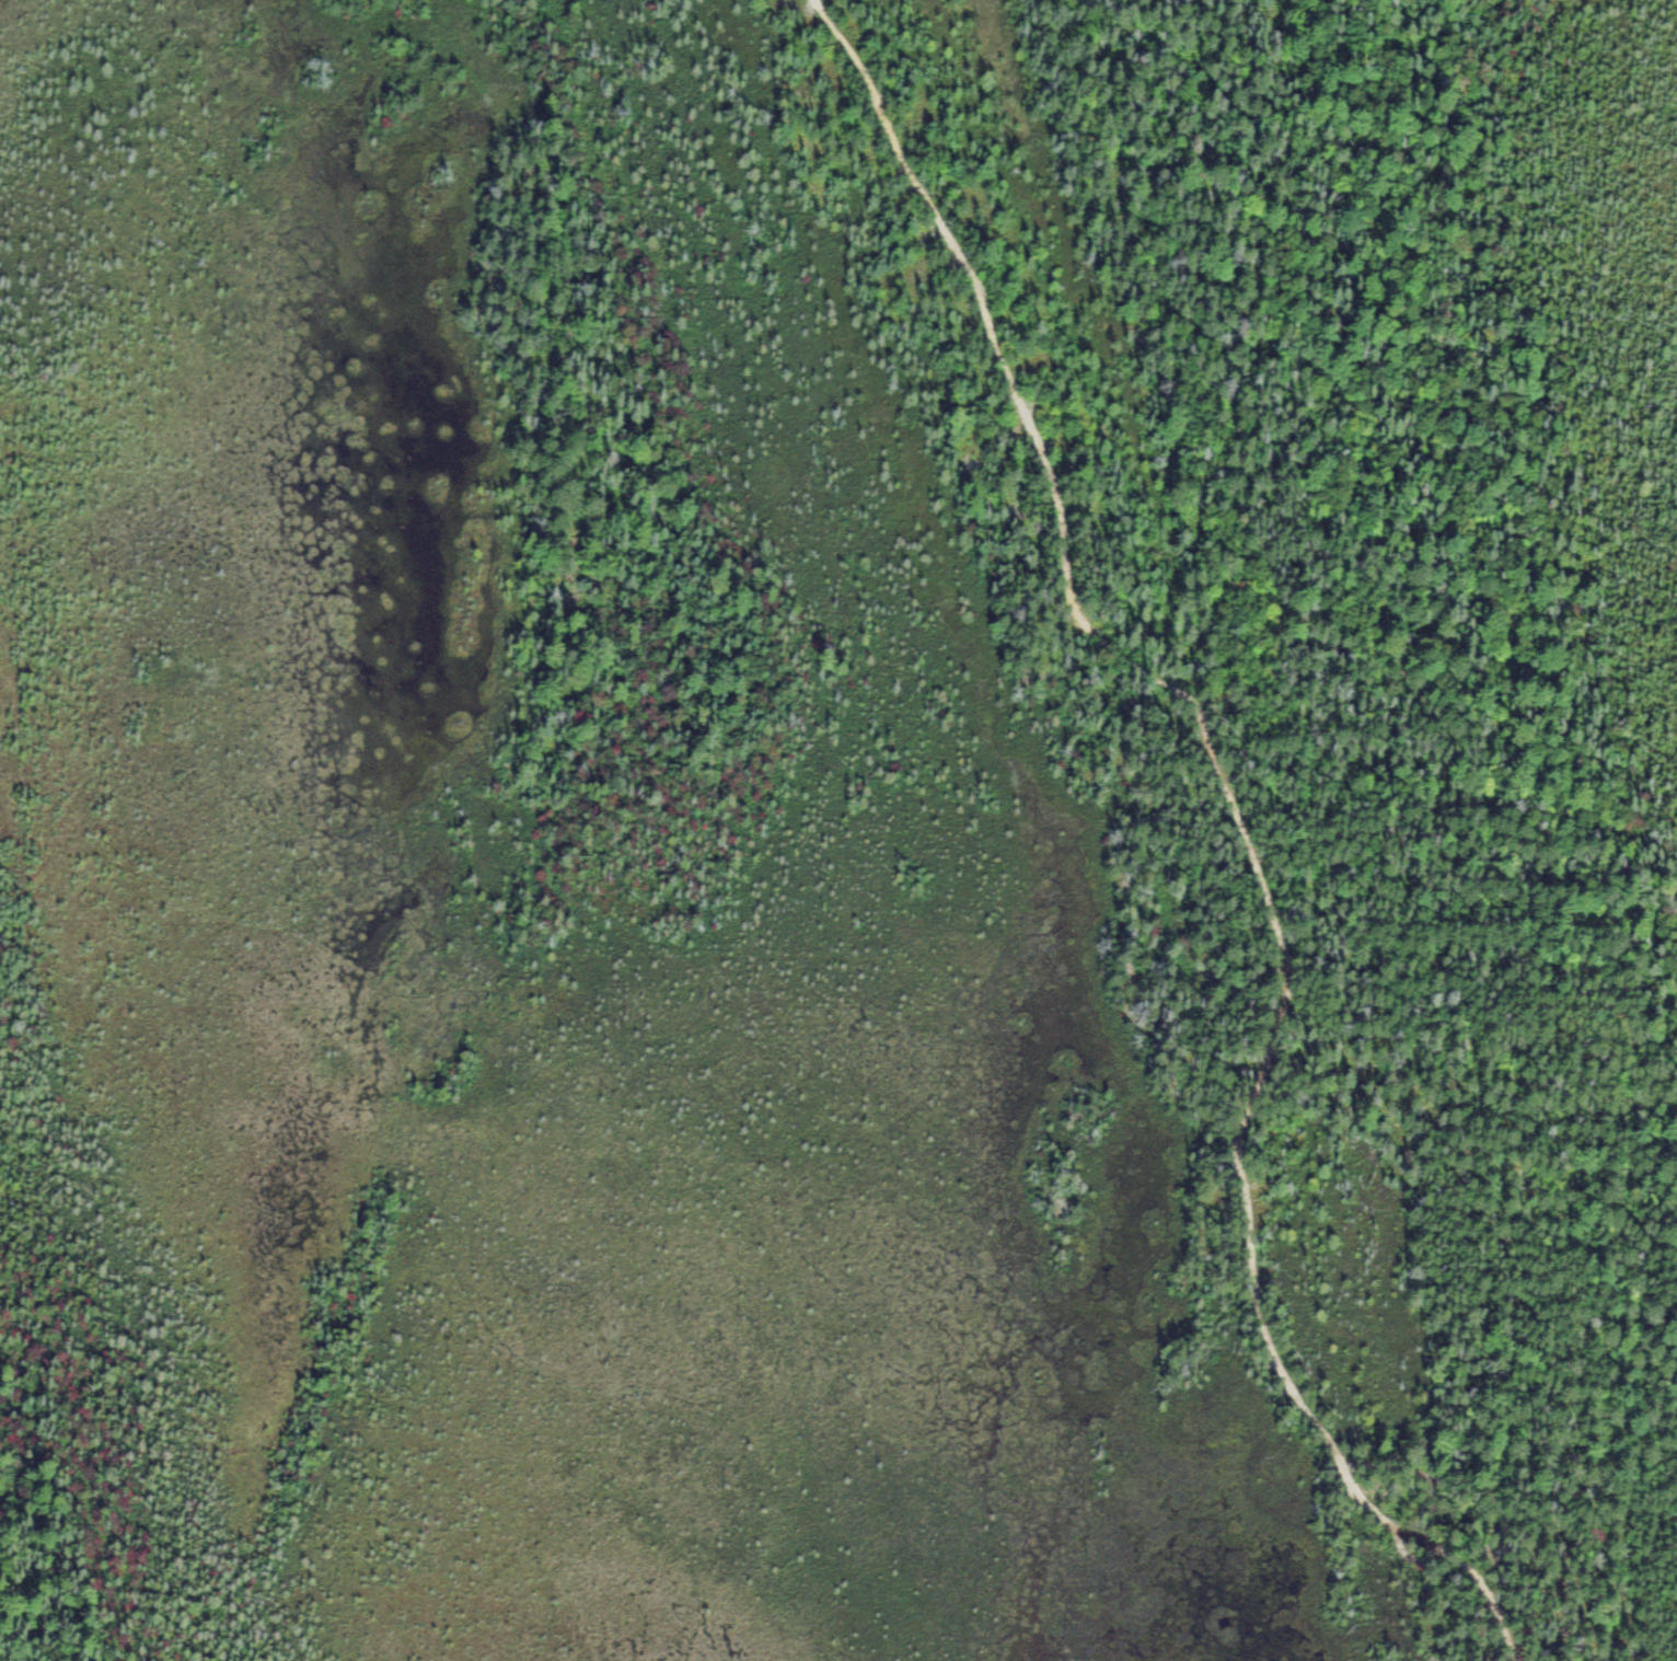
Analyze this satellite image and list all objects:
road: (1240, 822)

